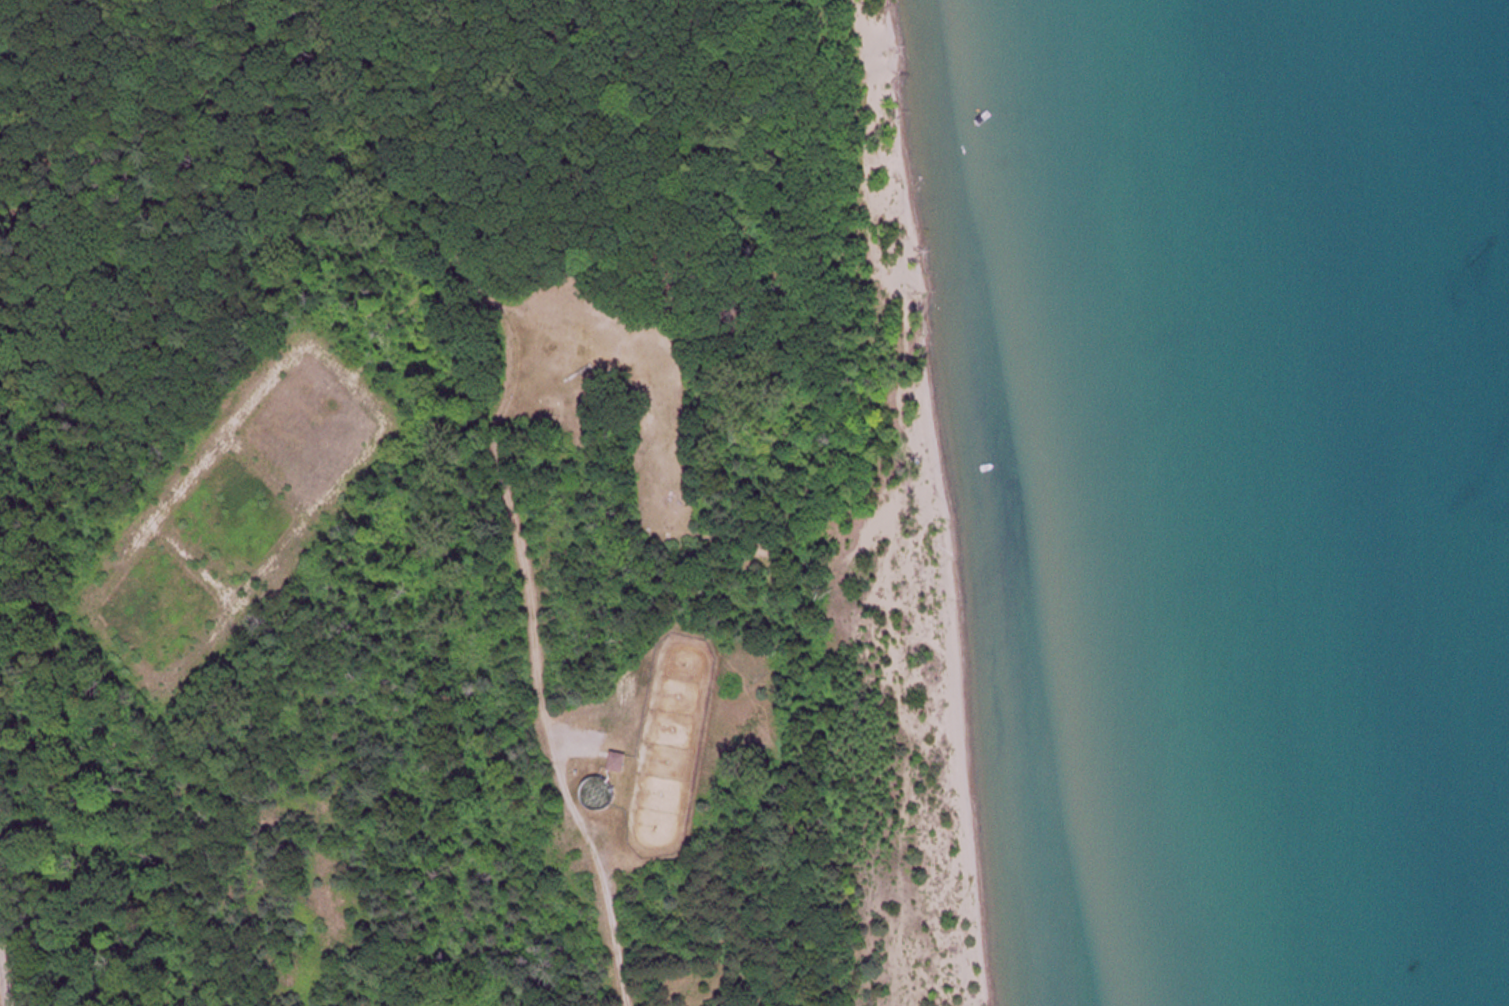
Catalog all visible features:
road: (509, 499)
park: (530, 509)
building: (621, 762)
road: (4, 981)

